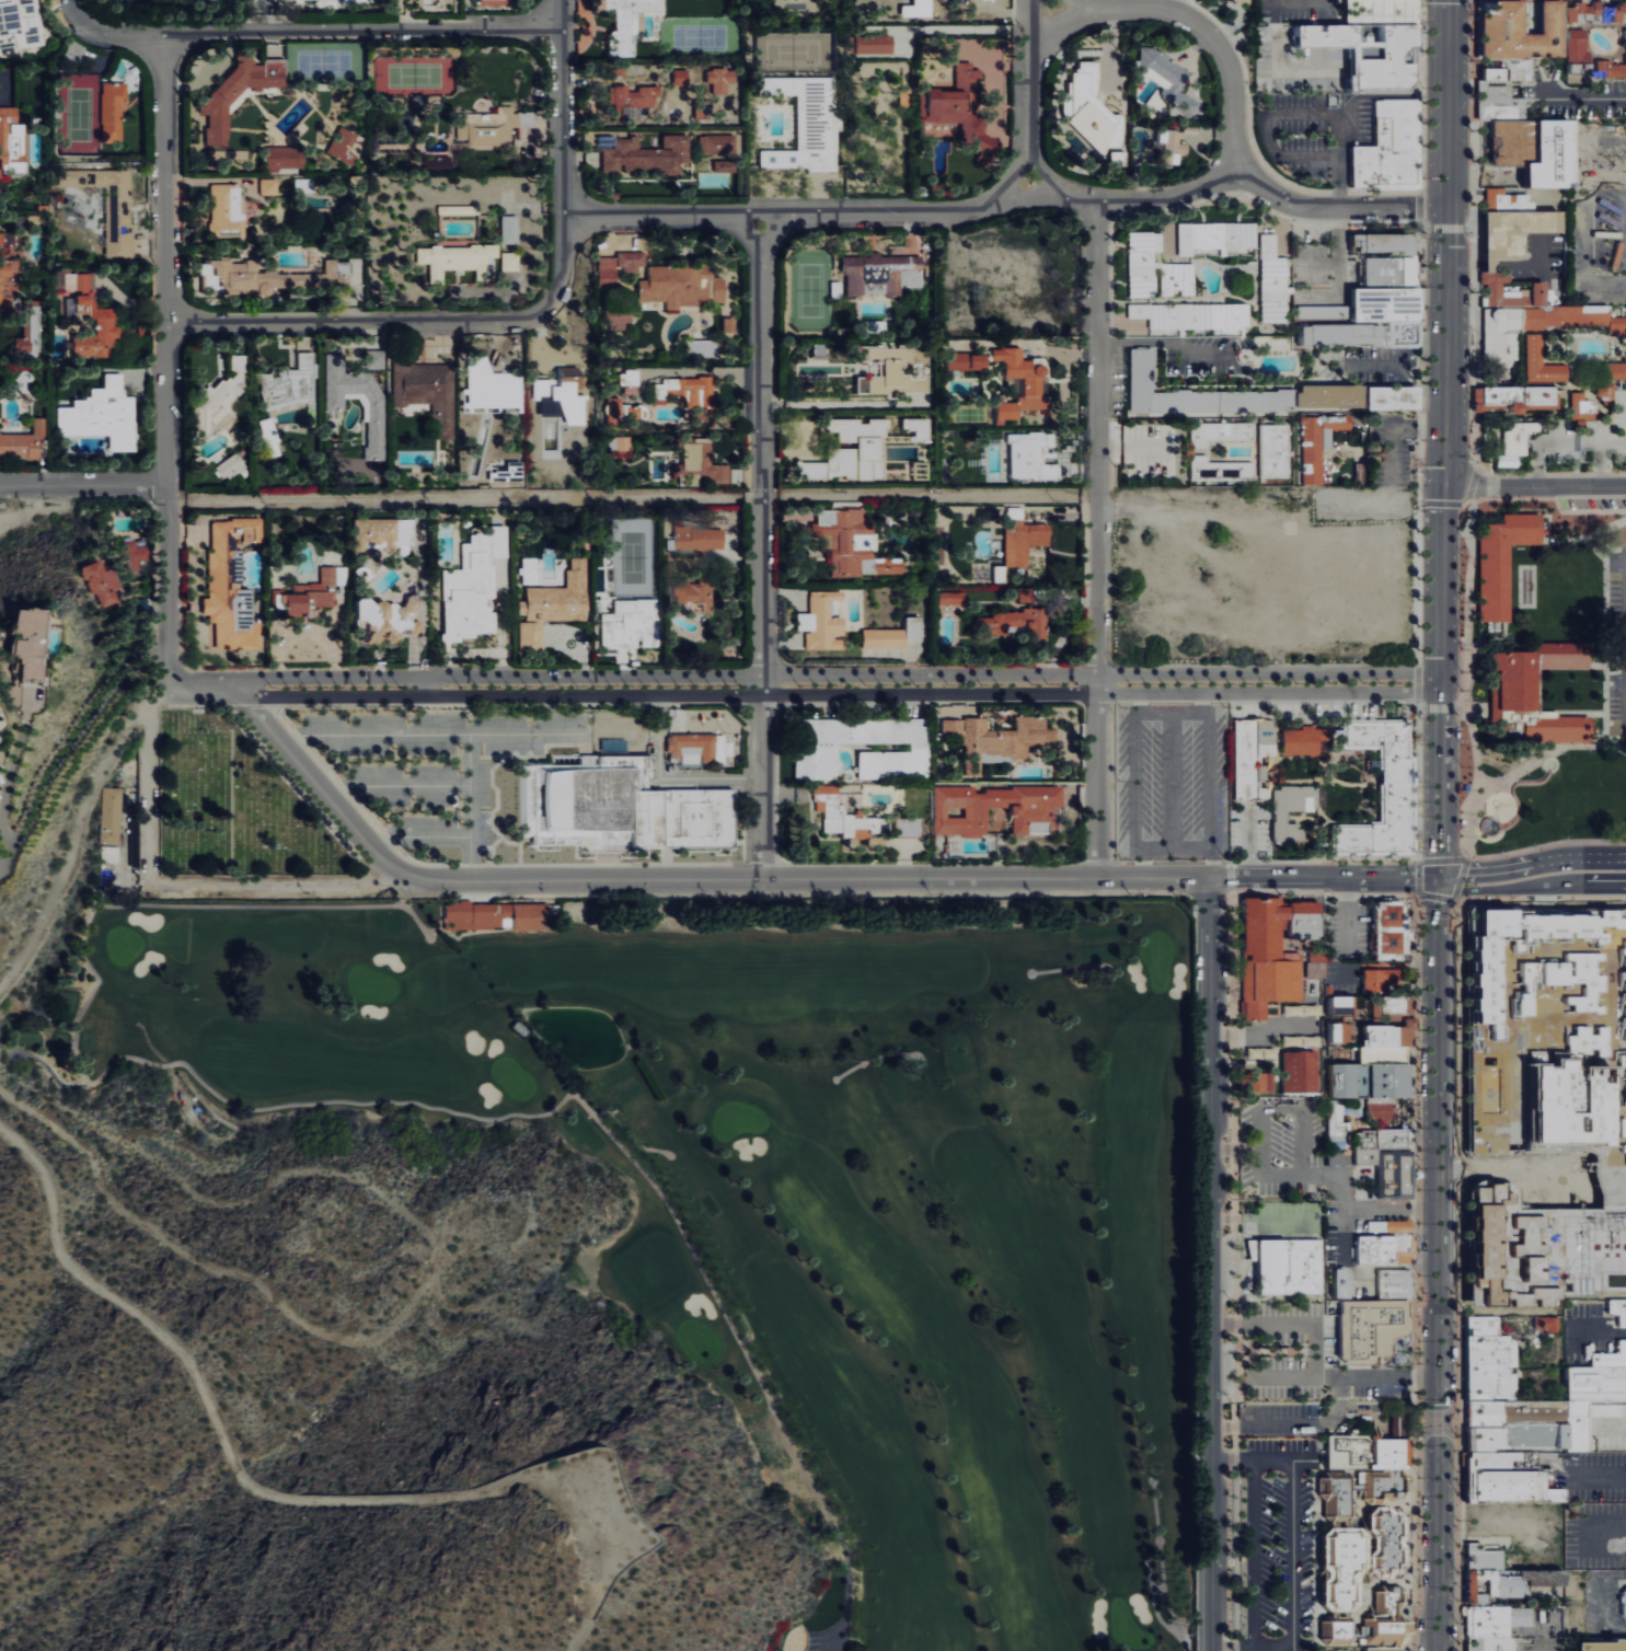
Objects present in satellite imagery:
building: (493, 1)
building: (1238, 1)
road: (1083, 3)
road: (1186, 19)
building: (625, 22)
building: (18, 26)
road: (962, 27)
building: (1524, 30)
road: (361, 31)
road: (105, 33)
building: (1365, 41)
building: (875, 44)
building: (682, 77)
building: (1168, 78)
building: (239, 92)
road: (1030, 92)
building: (632, 97)
road: (1585, 97)
road: (563, 108)
building: (1091, 108)
building: (114, 109)
building: (967, 112)
road: (1296, 113)
building: (406, 123)
building: (807, 123)
building: (488, 126)
building: (1529, 137)
building: (12, 141)
building: (345, 142)
building: (1174, 143)
building: (719, 150)
building: (1385, 151)
building: (229, 153)
building: (648, 153)
building: (285, 159)
building: (439, 162)
building: (269, 186)
road: (1133, 200)
building: (109, 203)
road: (1334, 208)
building: (227, 209)
road: (799, 218)
building: (1515, 223)
road: (1583, 227)
building: (510, 229)
building: (1216, 236)
road: (1338, 253)
building: (1388, 256)
building: (458, 259)
building: (632, 259)
building: (510, 261)
building: (1143, 262)
building: (608, 268)
building: (9, 269)
building: (883, 273)
building: (276, 276)
building: (1177, 278)
building: (1273, 280)
building: (683, 285)
building: (1387, 303)
building: (1318, 311)
building: (89, 313)
building: (1531, 314)
building: (1195, 315)
road: (405, 323)
building: (729, 324)
building: (1344, 333)
road: (1164, 340)
building: (968, 360)
road: (165, 361)
building: (1541, 361)
building: (239, 362)
road: (1408, 367)
road: (718, 369)
building: (895, 371)
building: (1611, 378)
building: (492, 384)
building: (1034, 386)
building: (561, 388)
building: (688, 390)
building: (359, 392)
building: (428, 392)
building: (1232, 394)
building: (1395, 397)
building: (1517, 397)
road: (834, 403)
building: (1582, 408)
building: (614, 409)
building: (634, 412)
building: (103, 414)
building: (1220, 431)
road: (1399, 431)
building: (1518, 436)
building: (270, 437)
road: (1096, 438)
road: (1443, 439)
building: (23, 441)
building: (621, 442)
building: (1316, 446)
road: (1131, 449)
building: (1275, 449)
building: (852, 452)
building: (1030, 457)
building: (702, 464)
building: (231, 465)
road: (82, 484)
traffic signals: (1443, 485)
road: (1534, 485)
road: (462, 495)
road: (20, 505)
building: (1024, 536)
building: (700, 538)
building: (853, 542)
road: (759, 551)
building: (135, 554)
building: (1498, 562)
building: (1001, 574)
building: (101, 581)
building: (232, 585)
building: (474, 586)
building: (314, 592)
building: (695, 594)
building: (953, 597)
building: (555, 604)
building: (1017, 617)
building: (389, 619)
building: (822, 621)
building: (632, 624)
building: (914, 627)
building: (885, 637)
building: (28, 640)
parking lot: (1617, 643)
park: (1542, 672)
road: (837, 676)
road: (422, 688)
road: (201, 689)
road: (839, 695)
building: (1531, 696)
road: (159, 698)
road: (1141, 704)
road: (1203, 704)
road: (1135, 716)
road: (460, 736)
building: (994, 738)
building: (1299, 743)
building: (819, 747)
building: (697, 748)
building: (1250, 760)
parking lot: (458, 762)
road: (1096, 777)
parking lot: (1171, 782)
road: (1172, 782)
road: (318, 786)
road: (395, 787)
building: (1393, 793)
road: (150, 798)
park: (231, 808)
building: (615, 809)
building: (1290, 812)
building: (841, 813)
building: (961, 813)
building: (113, 817)
fountain: (1488, 827)
road: (465, 835)
road: (1546, 844)
road: (72, 845)
road: (1321, 861)
road: (1213, 864)
road: (1532, 864)
road: (1143, 865)
traffic signals: (1439, 878)
road: (1229, 879)
road: (795, 882)
road: (1531, 887)
road: (1323, 892)
road: (1416, 894)
road: (1539, 897)
building: (498, 915)
building: (1565, 924)
building: (1391, 932)
building: (1624, 945)
building: (1270, 952)
building: (1313, 965)
building: (1534, 970)
building: (1491, 977)
building: (1579, 977)
building: (1380, 983)
building: (1339, 1008)
building: (1391, 1011)
building: (1299, 1012)
building: (1346, 1030)
road: (1260, 1034)
building: (1337, 1036)
building: (1387, 1037)
building: (1587, 1040)
building: (1299, 1042)
building: (1259, 1055)
building: (1381, 1055)
building: (1623, 1060)
building: (1625, 1073)
building: (1296, 1074)
building: (1365, 1082)
building: (1257, 1084)
building: (1570, 1104)
building: (1377, 1111)
road: (1264, 1112)
building: (1338, 1123)
building: (1382, 1141)
road: (1235, 1152)
building: (1387, 1173)
parking lot: (1311, 1184)
park: (787, 1188)
road: (1391, 1210)
road: (1344, 1213)
road: (1259, 1219)
building: (1386, 1226)
building: (1511, 1249)
building: (1384, 1250)
road: (1438, 1263)
road: (1209, 1266)
building: (1282, 1268)
building: (1342, 1282)
building: (1391, 1284)
building: (1547, 1323)
road: (1287, 1326)
building: (1366, 1330)
building: (1487, 1362)
parking lot: (1301, 1372)
road: (1342, 1377)
building: (1585, 1399)
building: (1511, 1415)
road: (1611, 1425)
road: (1293, 1427)
building: (1512, 1440)
building: (1365, 1453)
road: (1231, 1459)
building: (1510, 1462)
road: (237, 1464)
parking lot: (1591, 1477)
road: (1599, 1477)
building: (1509, 1487)
building: (1382, 1544)
road: (1294, 1552)
road: (1253, 1555)
building: (1481, 1559)
parking lot: (1279, 1560)
building: (1354, 1565)
building: (1502, 1585)
road: (1604, 1603)
building: (1623, 1604)
road: (845, 1608)
building: (1485, 1624)
road: (834, 1637)
building: (1491, 1644)
building: (1599, 1647)
road: (1543, 1648)
road: (1232, 1650)
parking lot: (1336, 1650)
building: (1381, 1650)

